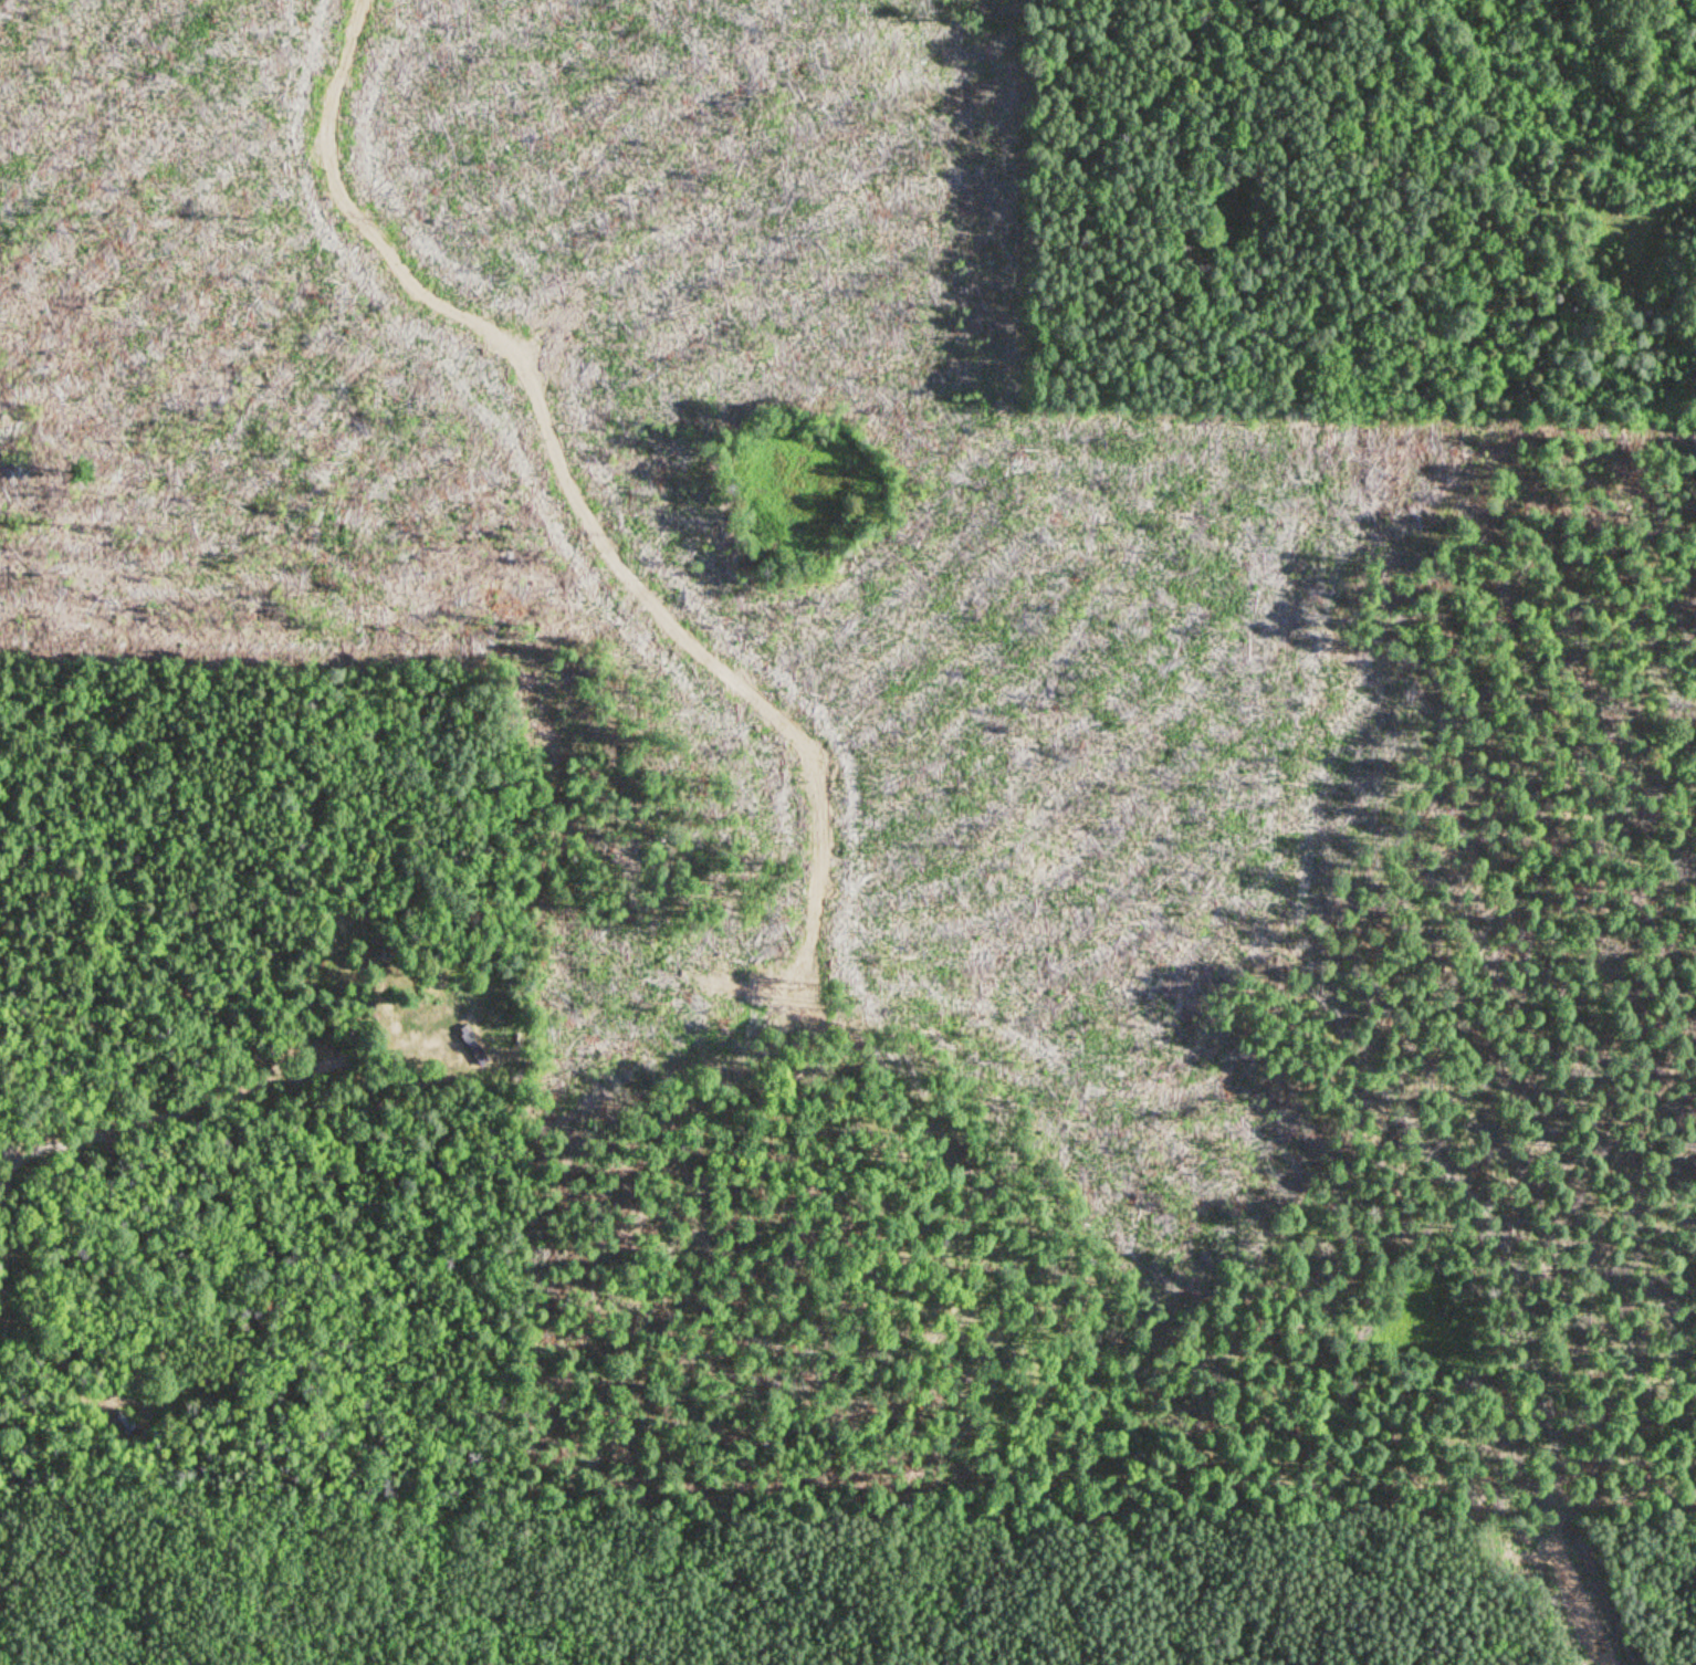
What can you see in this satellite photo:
road: (1164, 139)
building: (339, 920)
building: (471, 1045)
road: (9, 1154)

